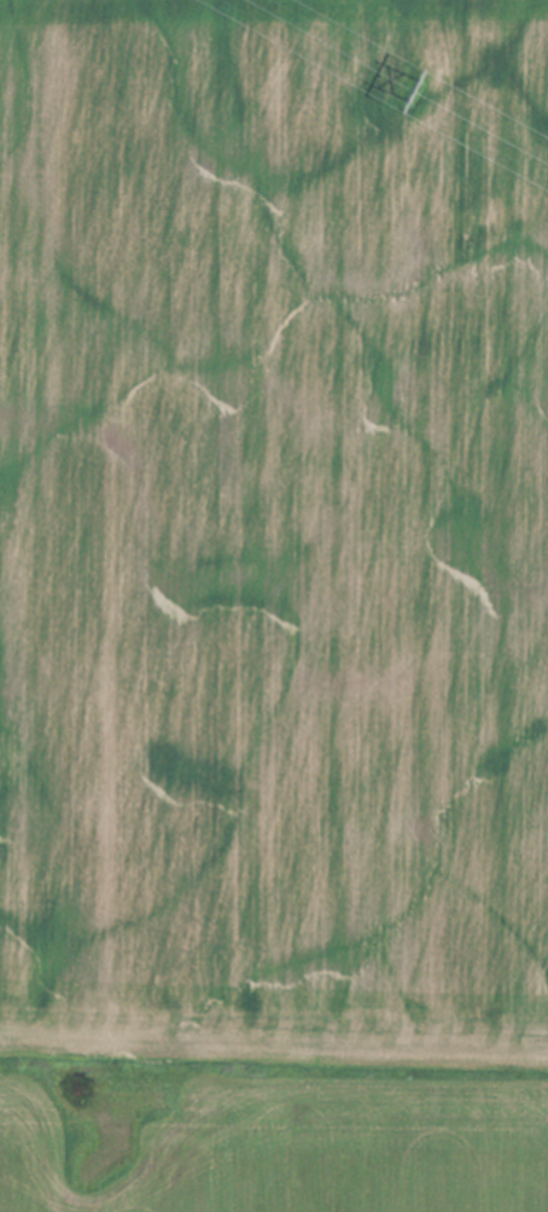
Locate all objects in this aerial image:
power tower: (419, 92)

